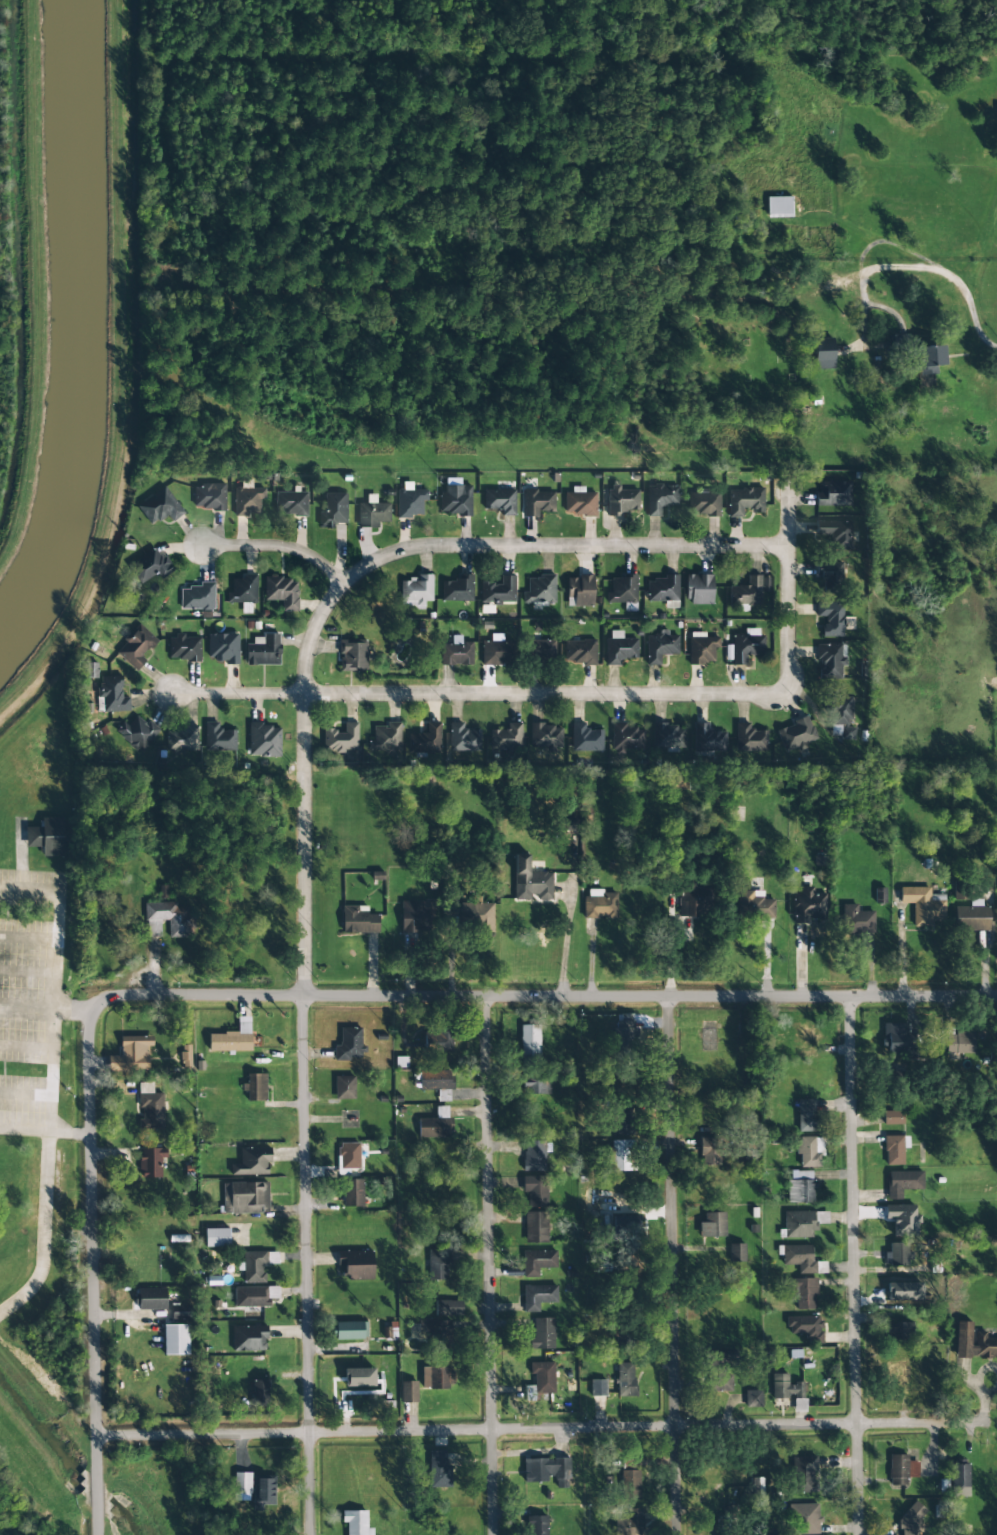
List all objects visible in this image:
building: (779, 207)
building: (823, 353)
building: (927, 359)
building: (833, 493)
building: (209, 497)
building: (660, 498)
building: (247, 500)
building: (455, 500)
building: (621, 500)
building: (410, 501)
building: (500, 501)
building: (744, 501)
building: (537, 502)
building: (579, 502)
building: (291, 504)
building: (703, 504)
building: (159, 507)
building: (333, 511)
building: (372, 513)
building: (835, 533)
road: (278, 546)
road: (561, 546)
building: (150, 566)
building: (831, 578)
building: (415, 589)
building: (457, 589)
building: (662, 589)
building: (698, 589)
building: (540, 590)
building: (622, 590)
building: (243, 591)
building: (499, 591)
building: (579, 591)
building: (282, 592)
road: (788, 592)
building: (746, 593)
building: (198, 597)
building: (831, 619)
building: (744, 646)
building: (660, 647)
building: (136, 648)
building: (183, 648)
building: (223, 648)
building: (701, 648)
building: (619, 649)
building: (263, 650)
building: (542, 650)
building: (579, 652)
building: (456, 653)
building: (494, 653)
building: (352, 655)
building: (829, 661)
road: (479, 694)
building: (111, 695)
building: (840, 711)
building: (136, 733)
building: (847, 733)
building: (796, 734)
building: (544, 736)
building: (666, 736)
building: (505, 737)
building: (218, 738)
building: (385, 738)
building: (463, 738)
building: (585, 738)
building: (627, 738)
building: (182, 739)
building: (341, 739)
building: (706, 739)
building: (749, 739)
building: (264, 740)
building: (425, 740)
building: (570, 825)
building: (46, 836)
building: (531, 881)
road: (53, 891)
building: (960, 892)
building: (880, 896)
building: (692, 900)
building: (600, 904)
building: (754, 905)
building: (923, 905)
building: (808, 906)
building: (476, 915)
building: (416, 917)
building: (972, 917)
building: (170, 918)
building: (358, 920)
building: (856, 920)
road: (58, 946)
road: (545, 995)
road: (56, 1038)
building: (624, 1039)
building: (231, 1040)
building: (437, 1041)
building: (529, 1042)
building: (959, 1042)
building: (349, 1044)
building: (131, 1055)
road: (304, 1055)
building: (895, 1074)
building: (436, 1083)
building: (536, 1086)
building: (255, 1087)
building: (344, 1087)
road: (50, 1100)
building: (150, 1107)
building: (806, 1116)
building: (892, 1118)
building: (622, 1120)
building: (434, 1125)
road: (55, 1132)
building: (895, 1149)
building: (710, 1151)
building: (809, 1152)
building: (349, 1156)
building: (534, 1156)
building: (619, 1156)
building: (252, 1161)
building: (151, 1162)
building: (902, 1183)
building: (800, 1187)
building: (535, 1191)
building: (352, 1193)
building: (245, 1198)
building: (901, 1219)
building: (624, 1224)
building: (712, 1225)
building: (799, 1225)
building: (536, 1227)
building: (217, 1238)
building: (736, 1253)
building: (897, 1255)
building: (802, 1259)
building: (537, 1262)
building: (356, 1263)
building: (438, 1264)
road: (488, 1264)
building: (256, 1265)
road: (672, 1265)
road: (854, 1265)
road: (94, 1272)
building: (883, 1289)
building: (894, 1291)
building: (803, 1292)
building: (255, 1296)
building: (538, 1297)
building: (151, 1299)
building: (448, 1308)
building: (180, 1312)
building: (806, 1327)
building: (350, 1331)
building: (434, 1331)
building: (899, 1331)
building: (542, 1334)
building: (249, 1338)
building: (175, 1340)
building: (973, 1343)
building: (719, 1370)
building: (436, 1377)
building: (359, 1378)
building: (625, 1380)
building: (540, 1381)
building: (598, 1388)
building: (785, 1388)
building: (408, 1392)
building: (259, 1393)
building: (753, 1399)
road: (540, 1428)
building: (439, 1470)
building: (901, 1470)
building: (547, 1471)
building: (804, 1474)
building: (959, 1480)
building: (242, 1485)
building: (629, 1485)
building: (752, 1488)
building: (264, 1492)
building: (804, 1519)
building: (911, 1519)
building: (356, 1523)
building: (629, 1524)
building: (537, 1525)

